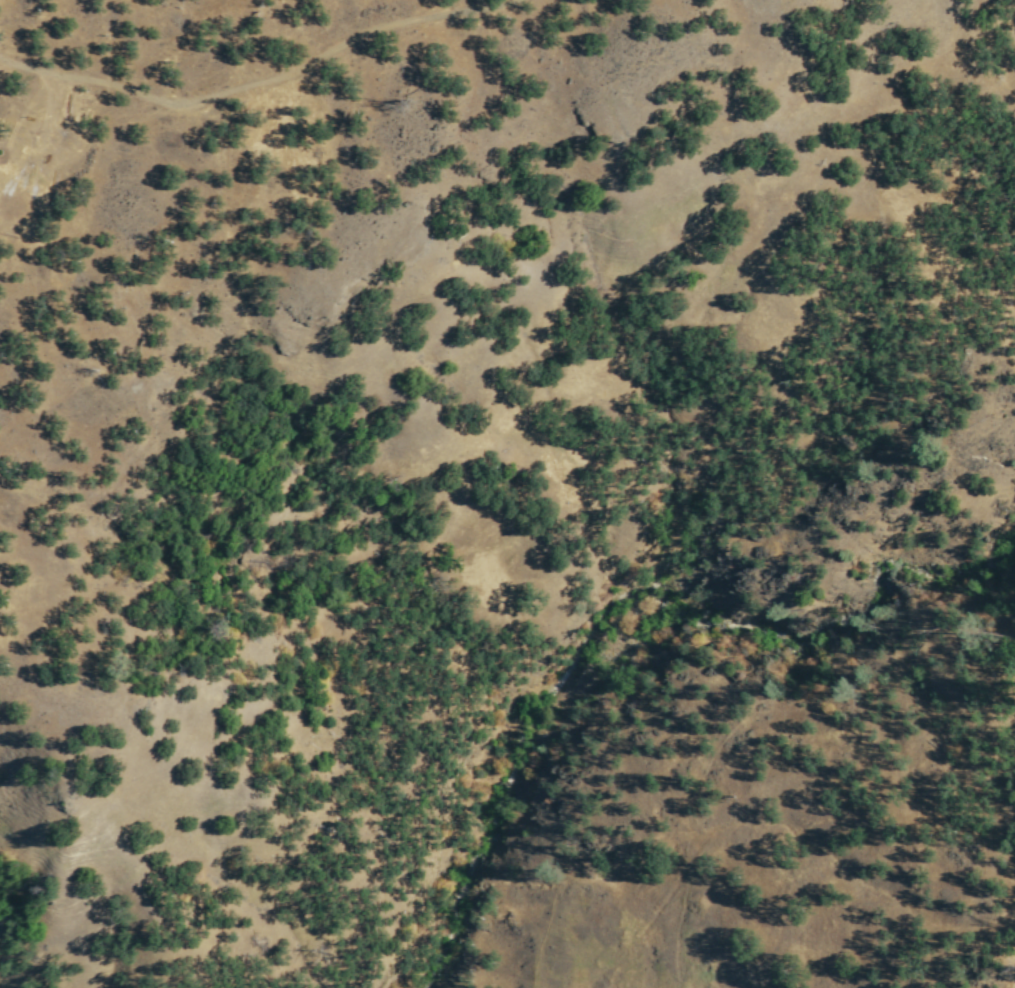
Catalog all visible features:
road: (257, 80)

